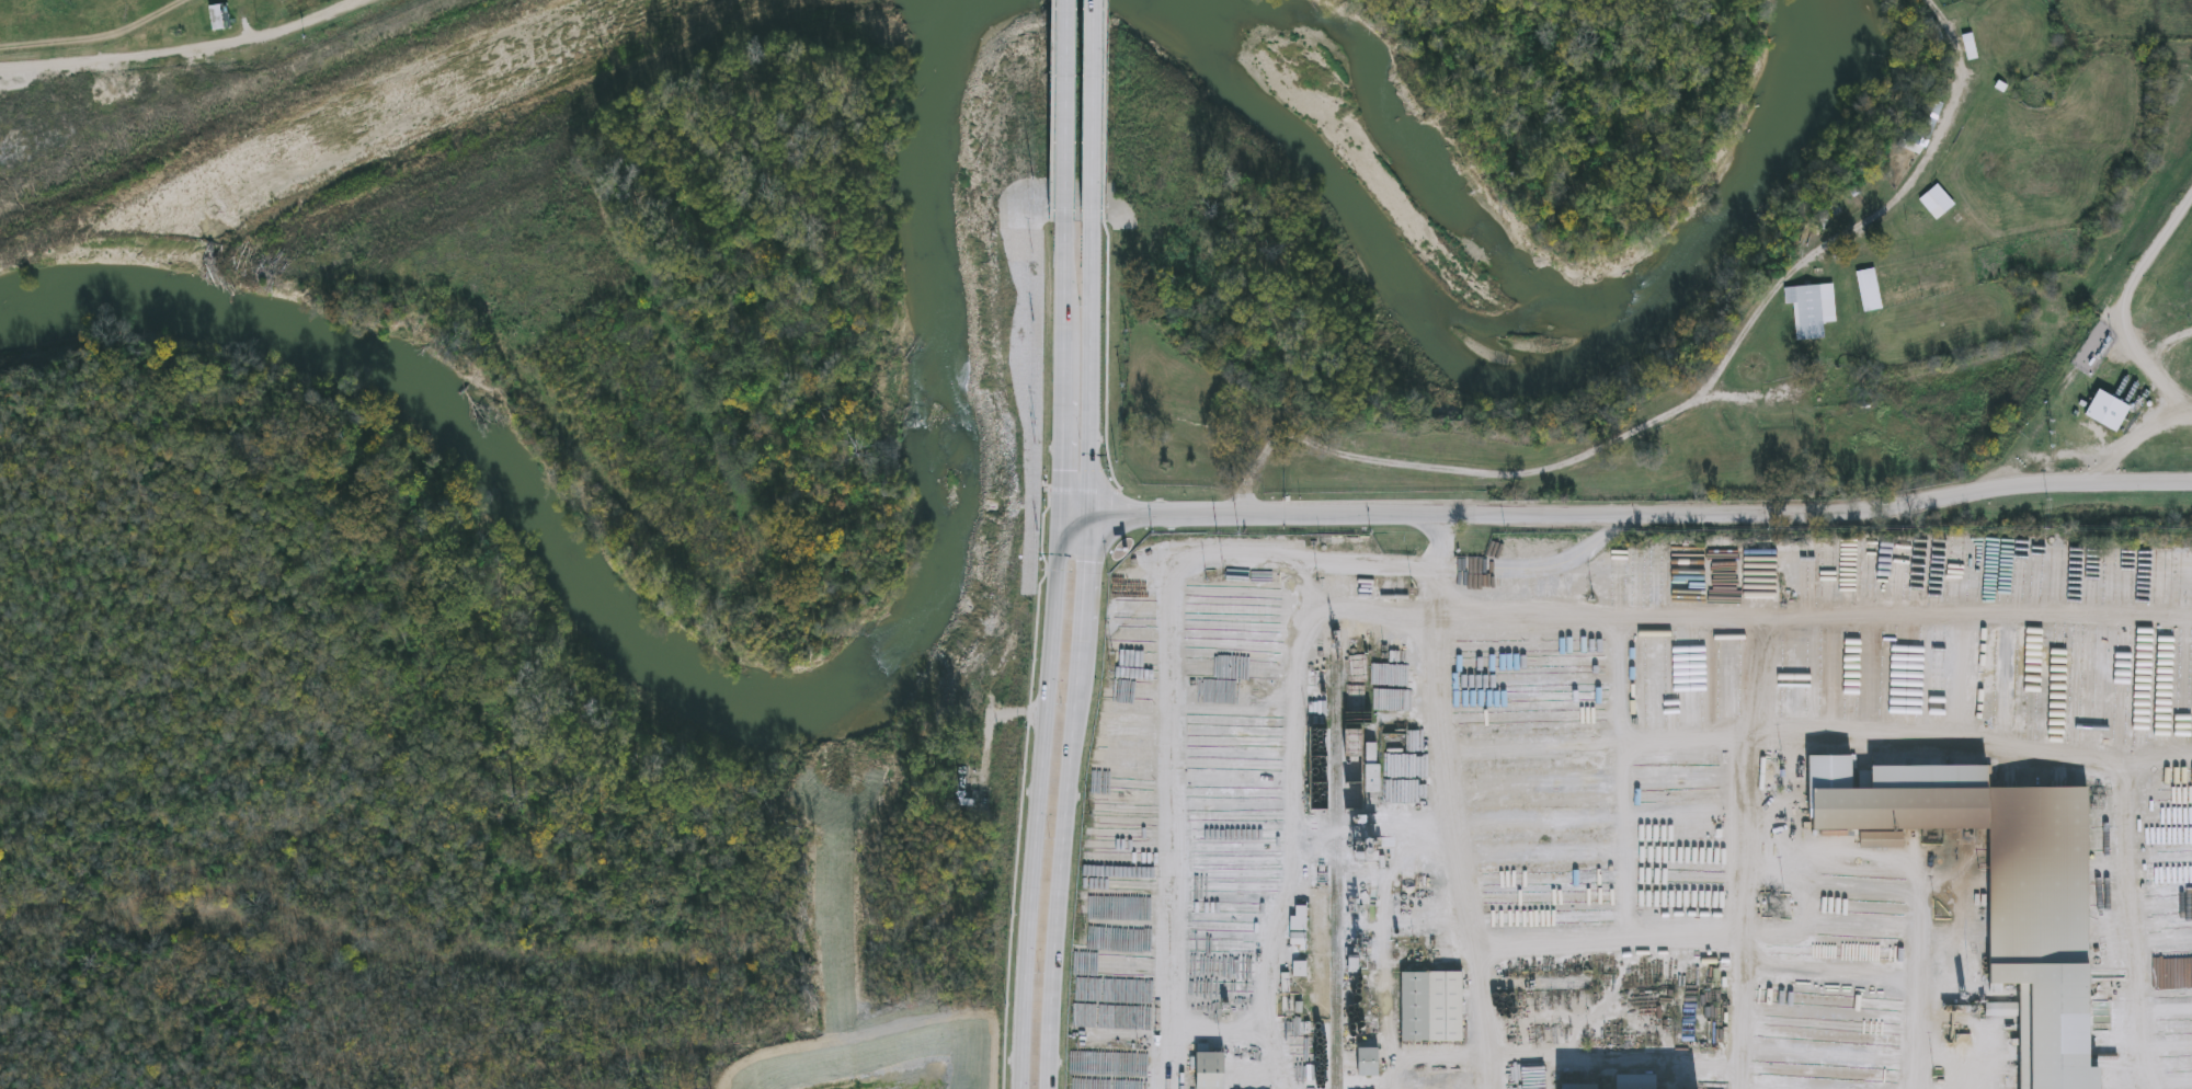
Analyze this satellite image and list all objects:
building: (219, 19)
building: (1971, 48)
road: (185, 51)
building: (1995, 100)
road: (1062, 112)
road: (1093, 112)
building: (1932, 112)
building: (1938, 204)
road: (1062, 283)
building: (1871, 291)
road: (2122, 305)
building: (1814, 311)
landfill: (2120, 375)
river: (1462, 376)
road: (1061, 426)
road: (2130, 435)
road: (1626, 515)
building: (1828, 577)
road: (1440, 611)
road: (1816, 615)
road: (1084, 656)
building: (1915, 676)
building: (1870, 683)
river: (750, 685)
road: (1173, 692)
building: (1099, 712)
road: (1294, 789)
road: (1039, 800)
building: (970, 803)
railway: (1336, 861)
building: (2017, 897)
road: (1468, 899)
building: (1299, 927)
road: (1917, 988)
building: (1432, 1008)
building: (1212, 1071)
building: (1634, 1082)

